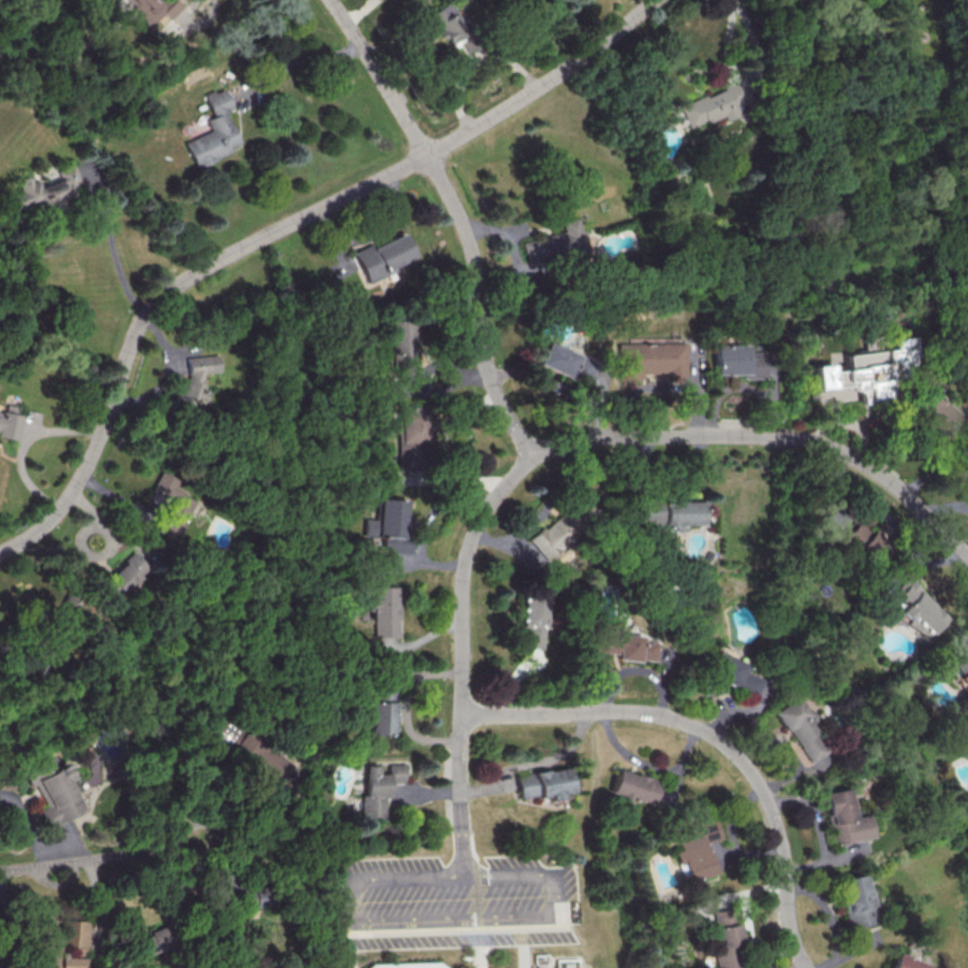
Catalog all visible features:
building: (153, 9)
road: (362, 12)
building: (447, 22)
road: (196, 24)
road: (306, 61)
road: (473, 61)
building: (716, 105)
building: (213, 131)
building: (47, 190)
road: (458, 219)
road: (274, 232)
building: (554, 244)
building: (382, 256)
road: (120, 260)
building: (400, 347)
building: (647, 359)
building: (738, 361)
building: (568, 367)
building: (866, 371)
building: (194, 382)
building: (941, 412)
building: (9, 422)
building: (409, 439)
road: (566, 440)
road: (25, 441)
building: (172, 504)
building: (669, 514)
building: (387, 524)
building: (862, 536)
building: (547, 537)
building: (126, 572)
building: (917, 608)
building: (378, 610)
building: (526, 619)
building: (623, 645)
building: (962, 665)
building: (732, 673)
building: (376, 718)
building: (801, 729)
road: (712, 738)
building: (540, 783)
building: (630, 787)
building: (379, 789)
building: (54, 790)
building: (842, 818)
road: (30, 826)
building: (693, 851)
road: (464, 854)
road: (99, 860)
parking lot: (454, 901)
building: (852, 901)
road: (429, 919)
building: (719, 941)
building: (151, 942)
building: (44, 944)
road: (512, 956)
road: (475, 957)
building: (901, 962)
building: (410, 965)

